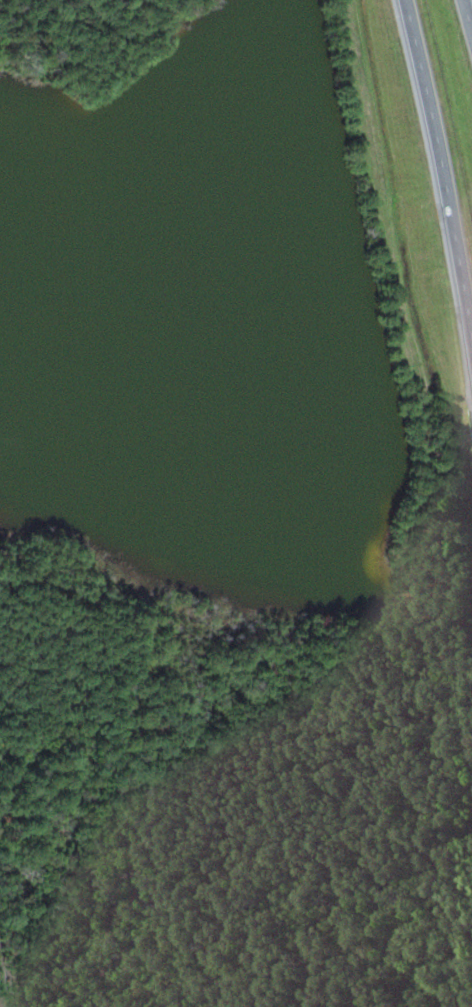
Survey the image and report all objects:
road: (470, 7)
road: (441, 149)

